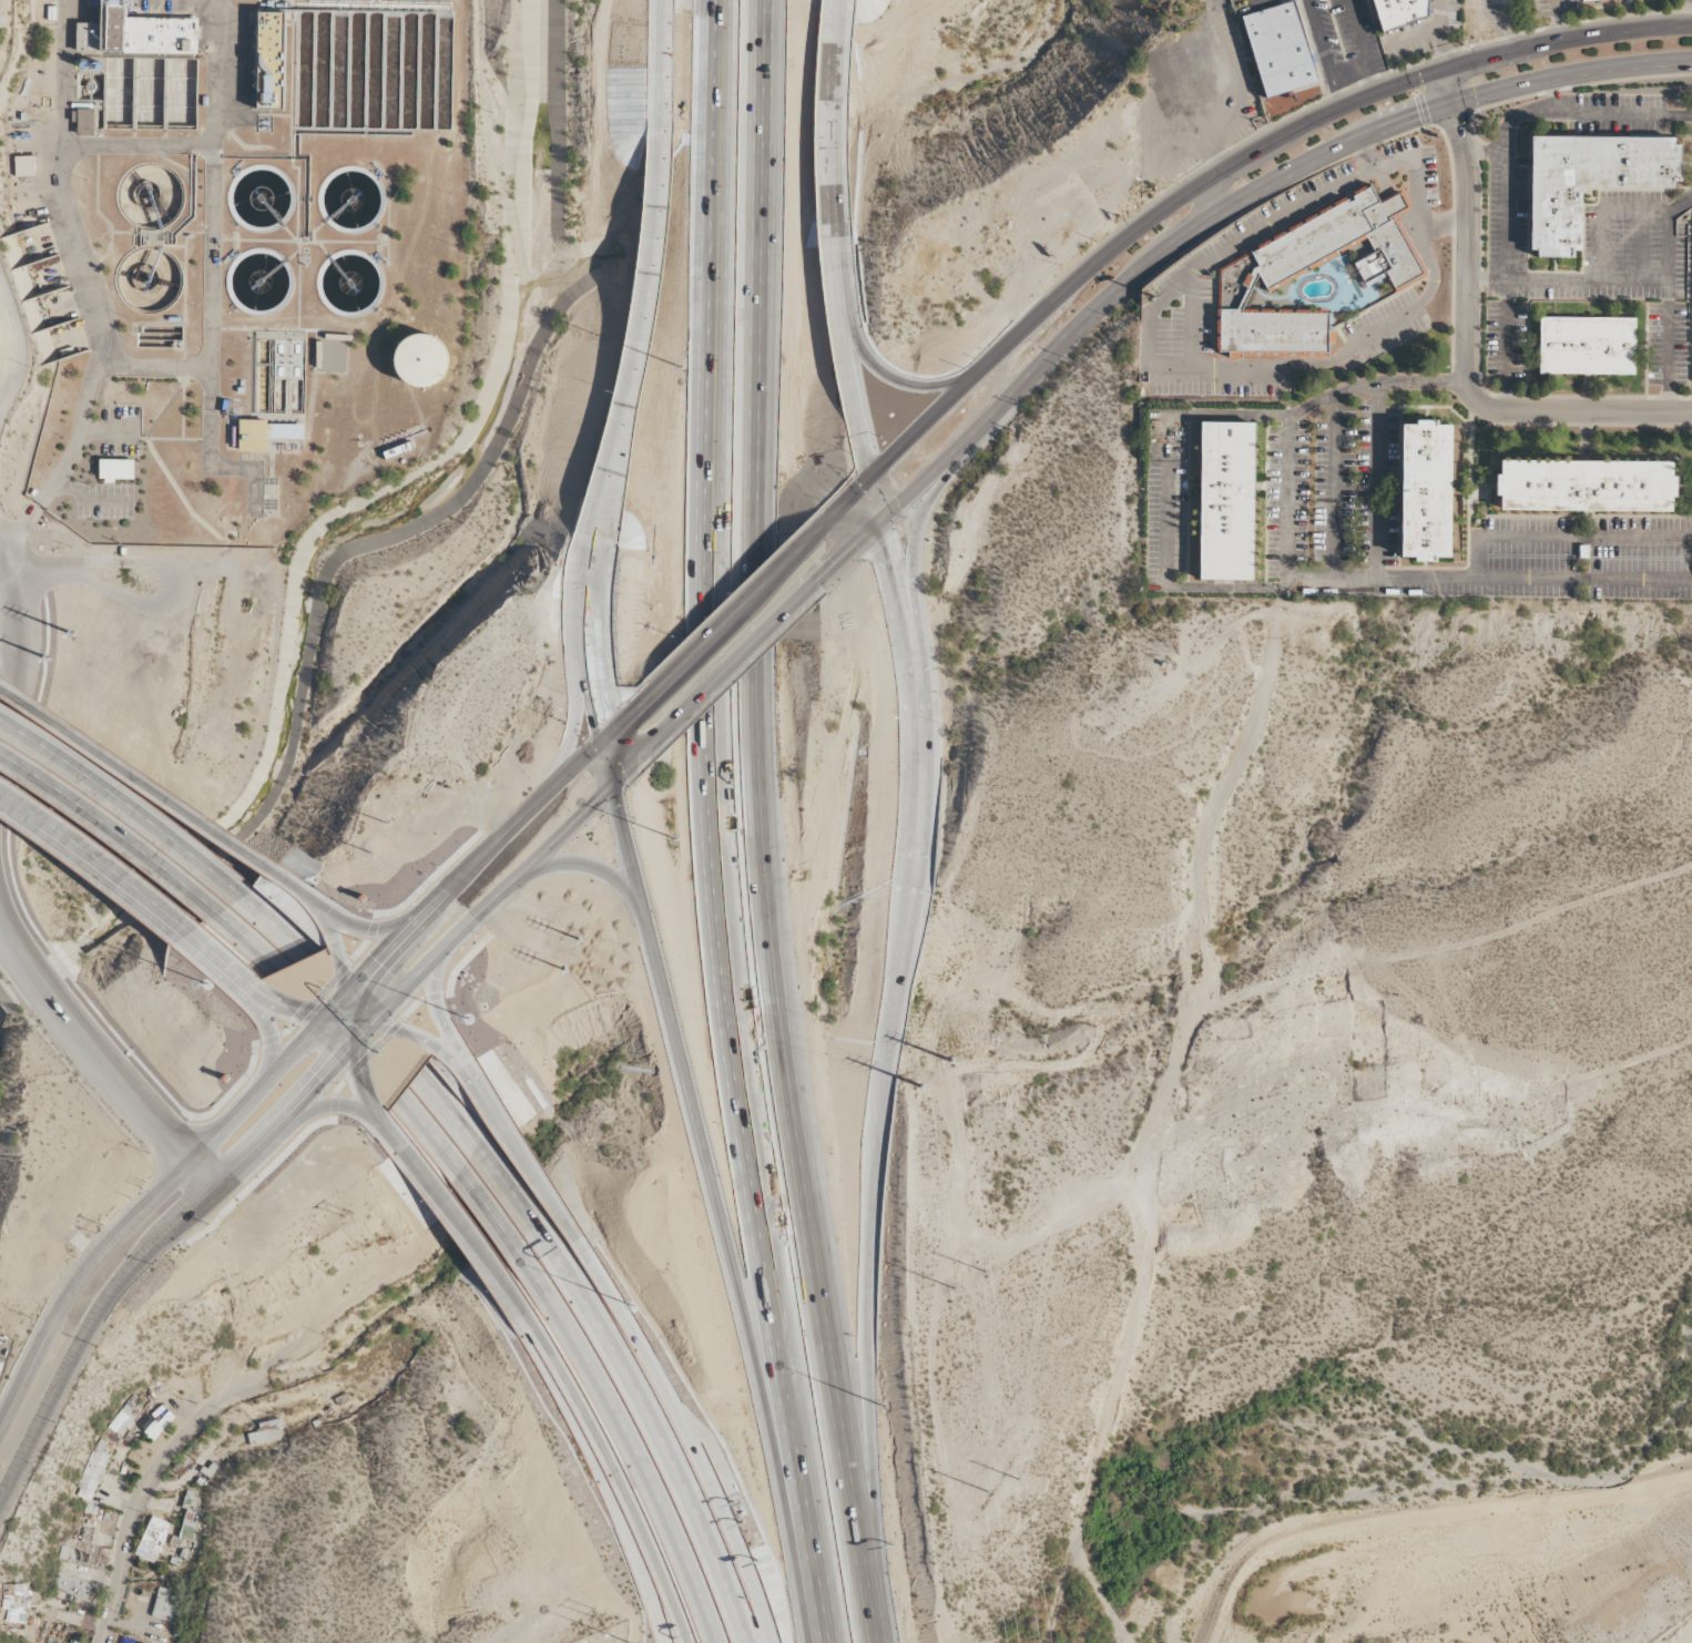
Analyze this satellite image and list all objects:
building: (1587, 0)
building: (1400, 12)
road: (1557, 21)
road: (1505, 27)
building: (134, 33)
road: (1439, 35)
building: (1278, 49)
building: (265, 60)
road: (660, 70)
traffic signals: (1441, 72)
road: (213, 73)
road: (64, 76)
traffic signals: (1453, 105)
road: (829, 111)
road: (1532, 111)
road: (1624, 112)
building: (84, 122)
road: (156, 146)
building: (24, 166)
building: (1589, 181)
road: (1199, 187)
road: (1214, 198)
road: (1199, 228)
road: (1669, 232)
wastewater plant: (235, 255)
road: (1506, 258)
building: (1388, 268)
road: (1634, 278)
road: (635, 341)
road: (1468, 345)
building: (1586, 346)
road: (13, 350)
road: (853, 350)
building: (419, 360)
storage tank: (419, 360)
road: (154, 366)
road: (903, 375)
road: (1299, 406)
road: (109, 429)
parking lot: (120, 430)
building: (252, 436)
building: (397, 451)
building: (114, 470)
traffic signals: (876, 477)
building: (1584, 486)
building: (1424, 490)
road: (88, 500)
building: (1226, 501)
parking lot: (103, 502)
traffic signals: (884, 514)
road: (20, 528)
road: (916, 531)
road: (730, 620)
power tower: (72, 631)
road: (584, 643)
power tower: (48, 656)
road: (731, 662)
road: (30, 665)
road: (623, 723)
road: (569, 742)
traffic signals: (598, 747)
road: (135, 779)
traffic signals: (610, 785)
road: (124, 803)
road: (718, 819)
road: (753, 826)
road: (110, 831)
road: (98, 858)
road: (589, 867)
road: (329, 914)
road: (274, 927)
power tower: (579, 938)
road: (247, 942)
road: (1438, 951)
road: (223, 963)
power tower: (564, 965)
road: (349, 988)
traffic signals: (349, 988)
traffic signals: (364, 1011)
traffic signals: (351, 1012)
road: (327, 1013)
traffic signals: (326, 1014)
road: (442, 1022)
traffic signals: (350, 1024)
traffic signals: (361, 1024)
traffic signals: (375, 1024)
road: (389, 1027)
road: (269, 1034)
road: (358, 1041)
traffic signals: (359, 1041)
road: (888, 1057)
power tower: (949, 1058)
road: (1640, 1058)
road: (101, 1063)
road: (275, 1070)
power tower: (921, 1081)
road: (298, 1104)
road: (447, 1110)
road: (361, 1111)
road: (1165, 1124)
road: (429, 1134)
road: (526, 1159)
road: (506, 1184)
road: (715, 1188)
road: (489, 1210)
road: (1037, 1235)
road: (470, 1237)
power tower: (982, 1263)
road: (980, 1274)
power tower: (954, 1285)
road: (929, 1346)
building: (123, 1419)
road: (654, 1429)
building: (266, 1433)
road: (693, 1433)
road: (628, 1440)
power tower: (1010, 1467)
building: (92, 1470)
road: (611, 1477)
road: (146, 1484)
power tower: (980, 1506)
building: (188, 1516)
building: (152, 1539)
building: (85, 1549)
building: (72, 1585)
building: (16, 1603)
building: (164, 1606)
park: (609, 1633)
road: (830, 1637)
building: (50, 1641)

